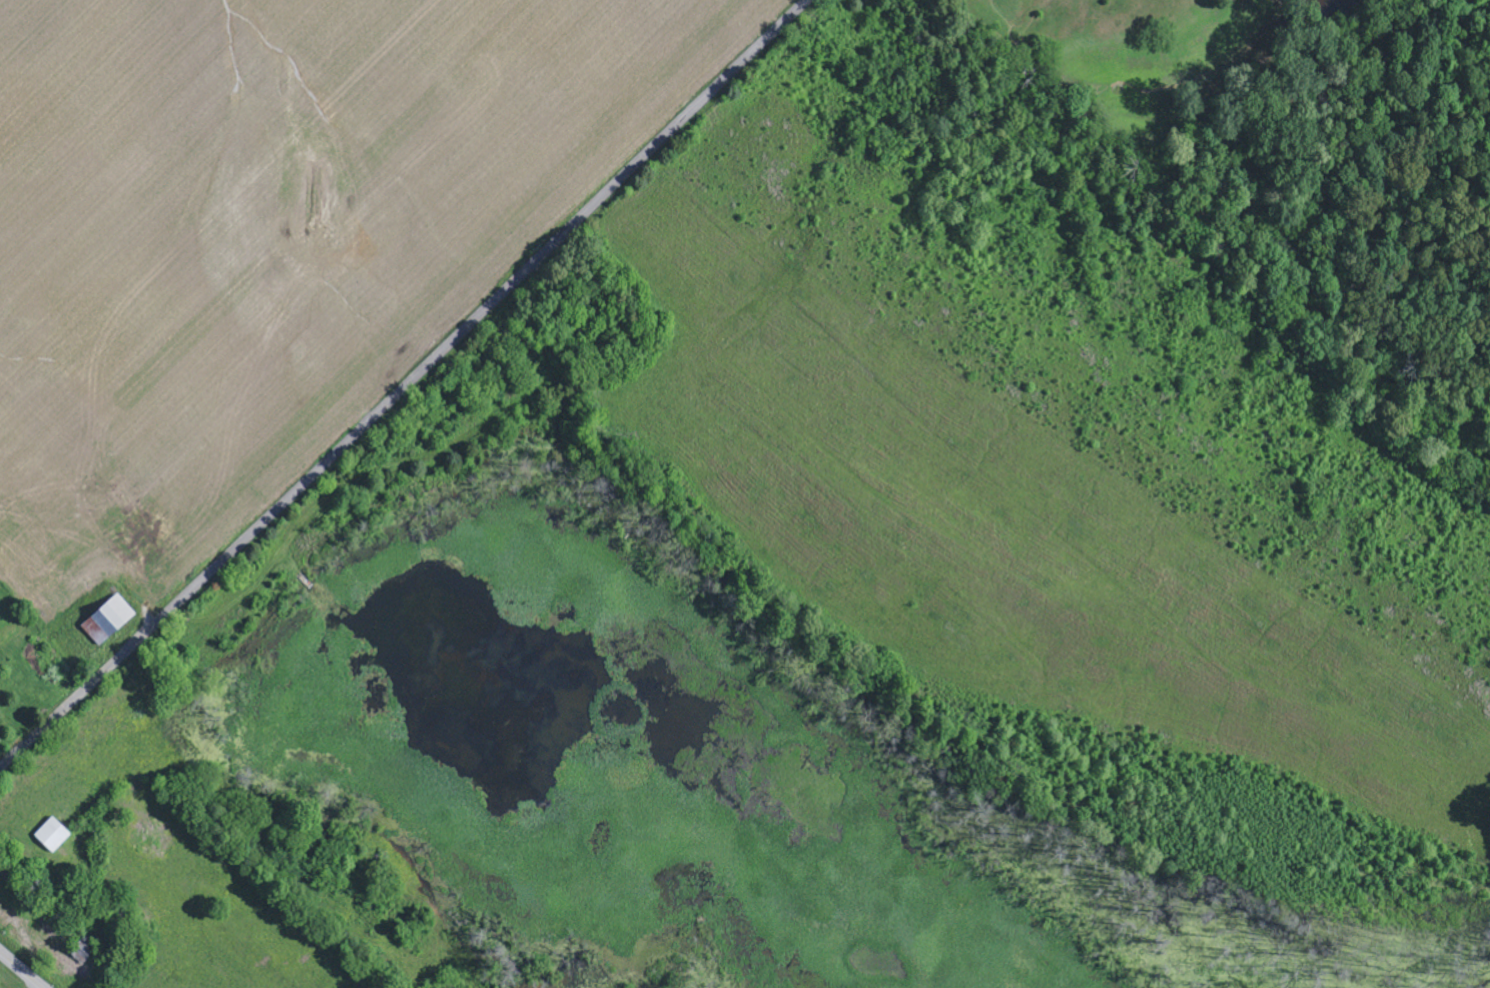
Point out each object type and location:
road: (407, 387)
building: (112, 622)
building: (55, 835)
road: (22, 969)

